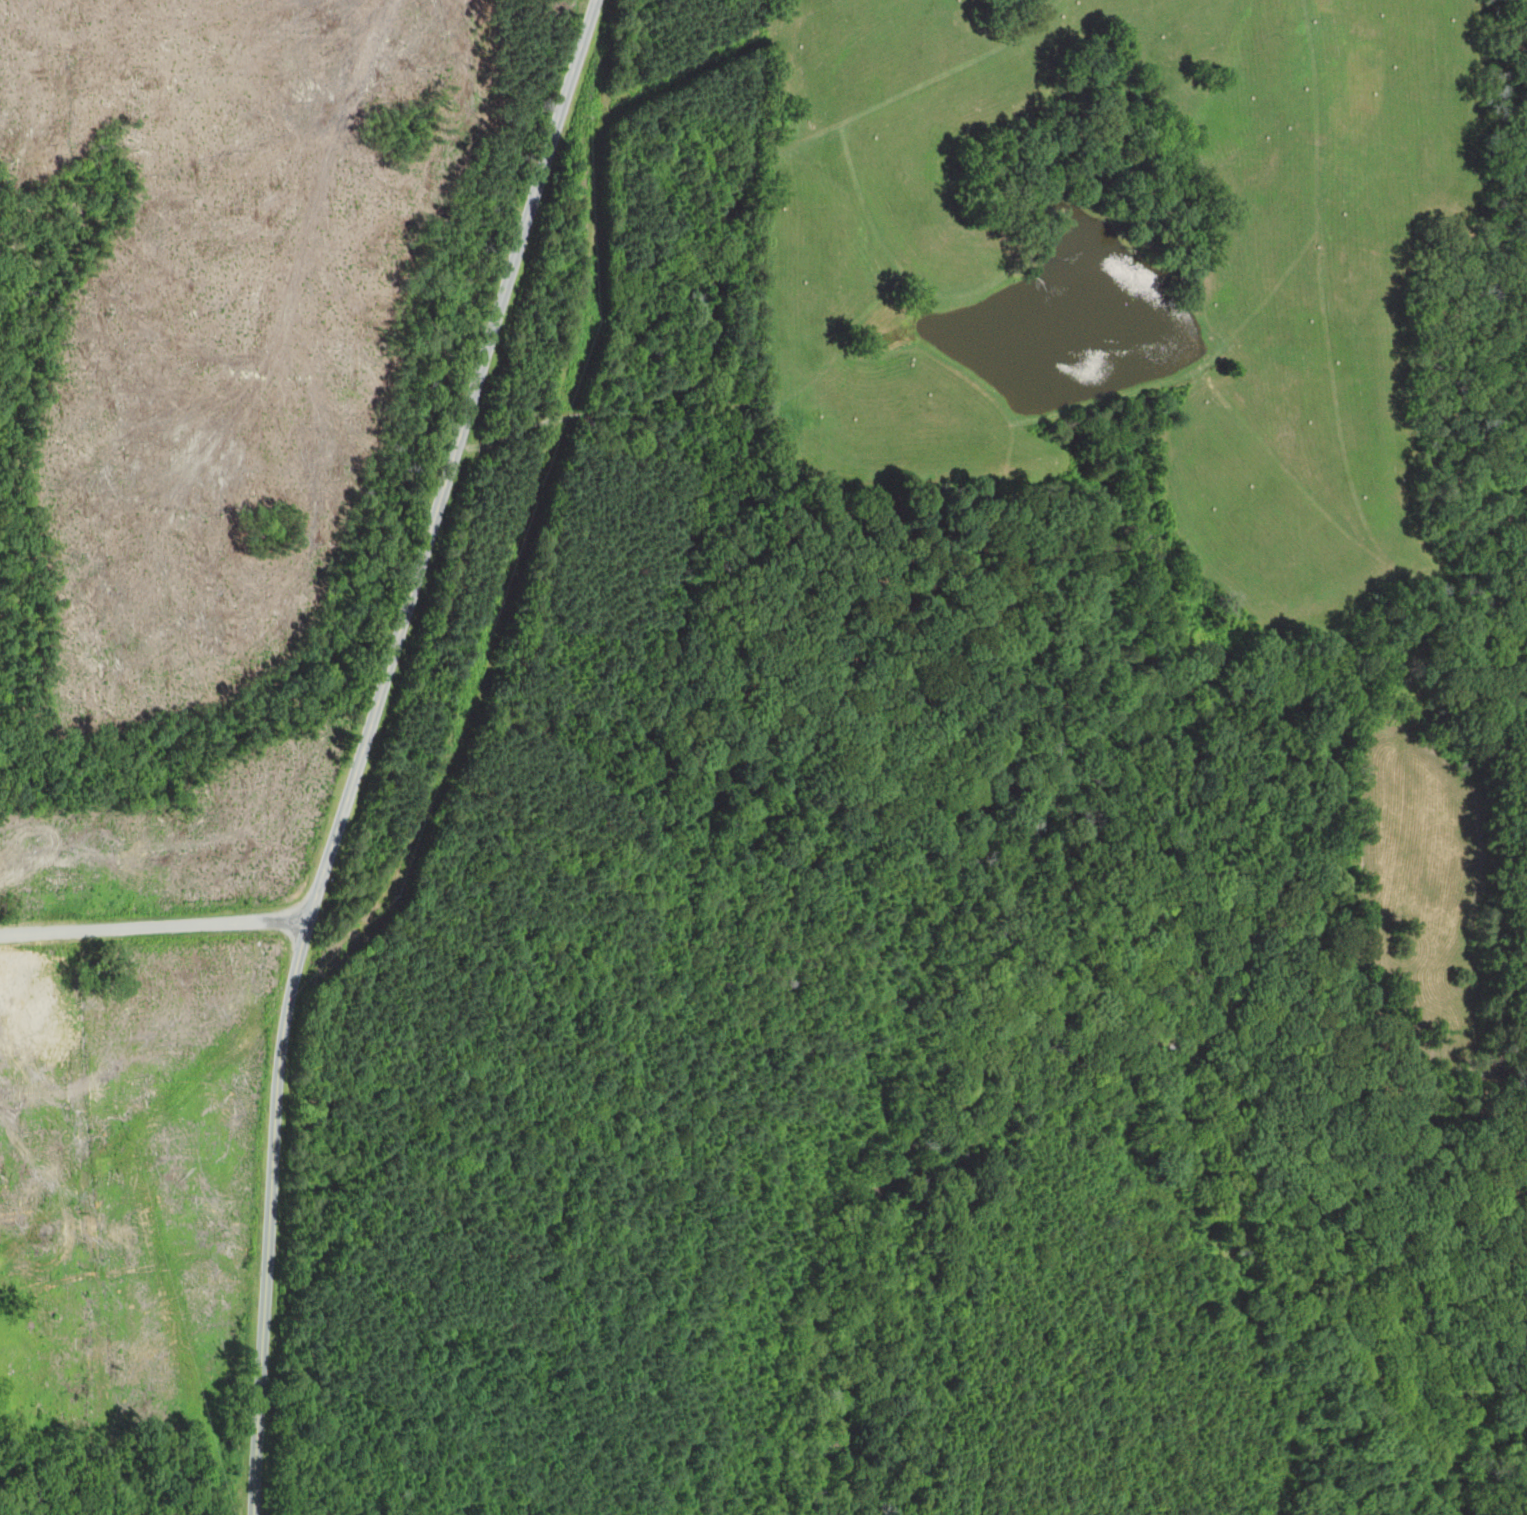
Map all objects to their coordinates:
road: (367, 733)
road: (154, 925)
road: (251, 1501)

